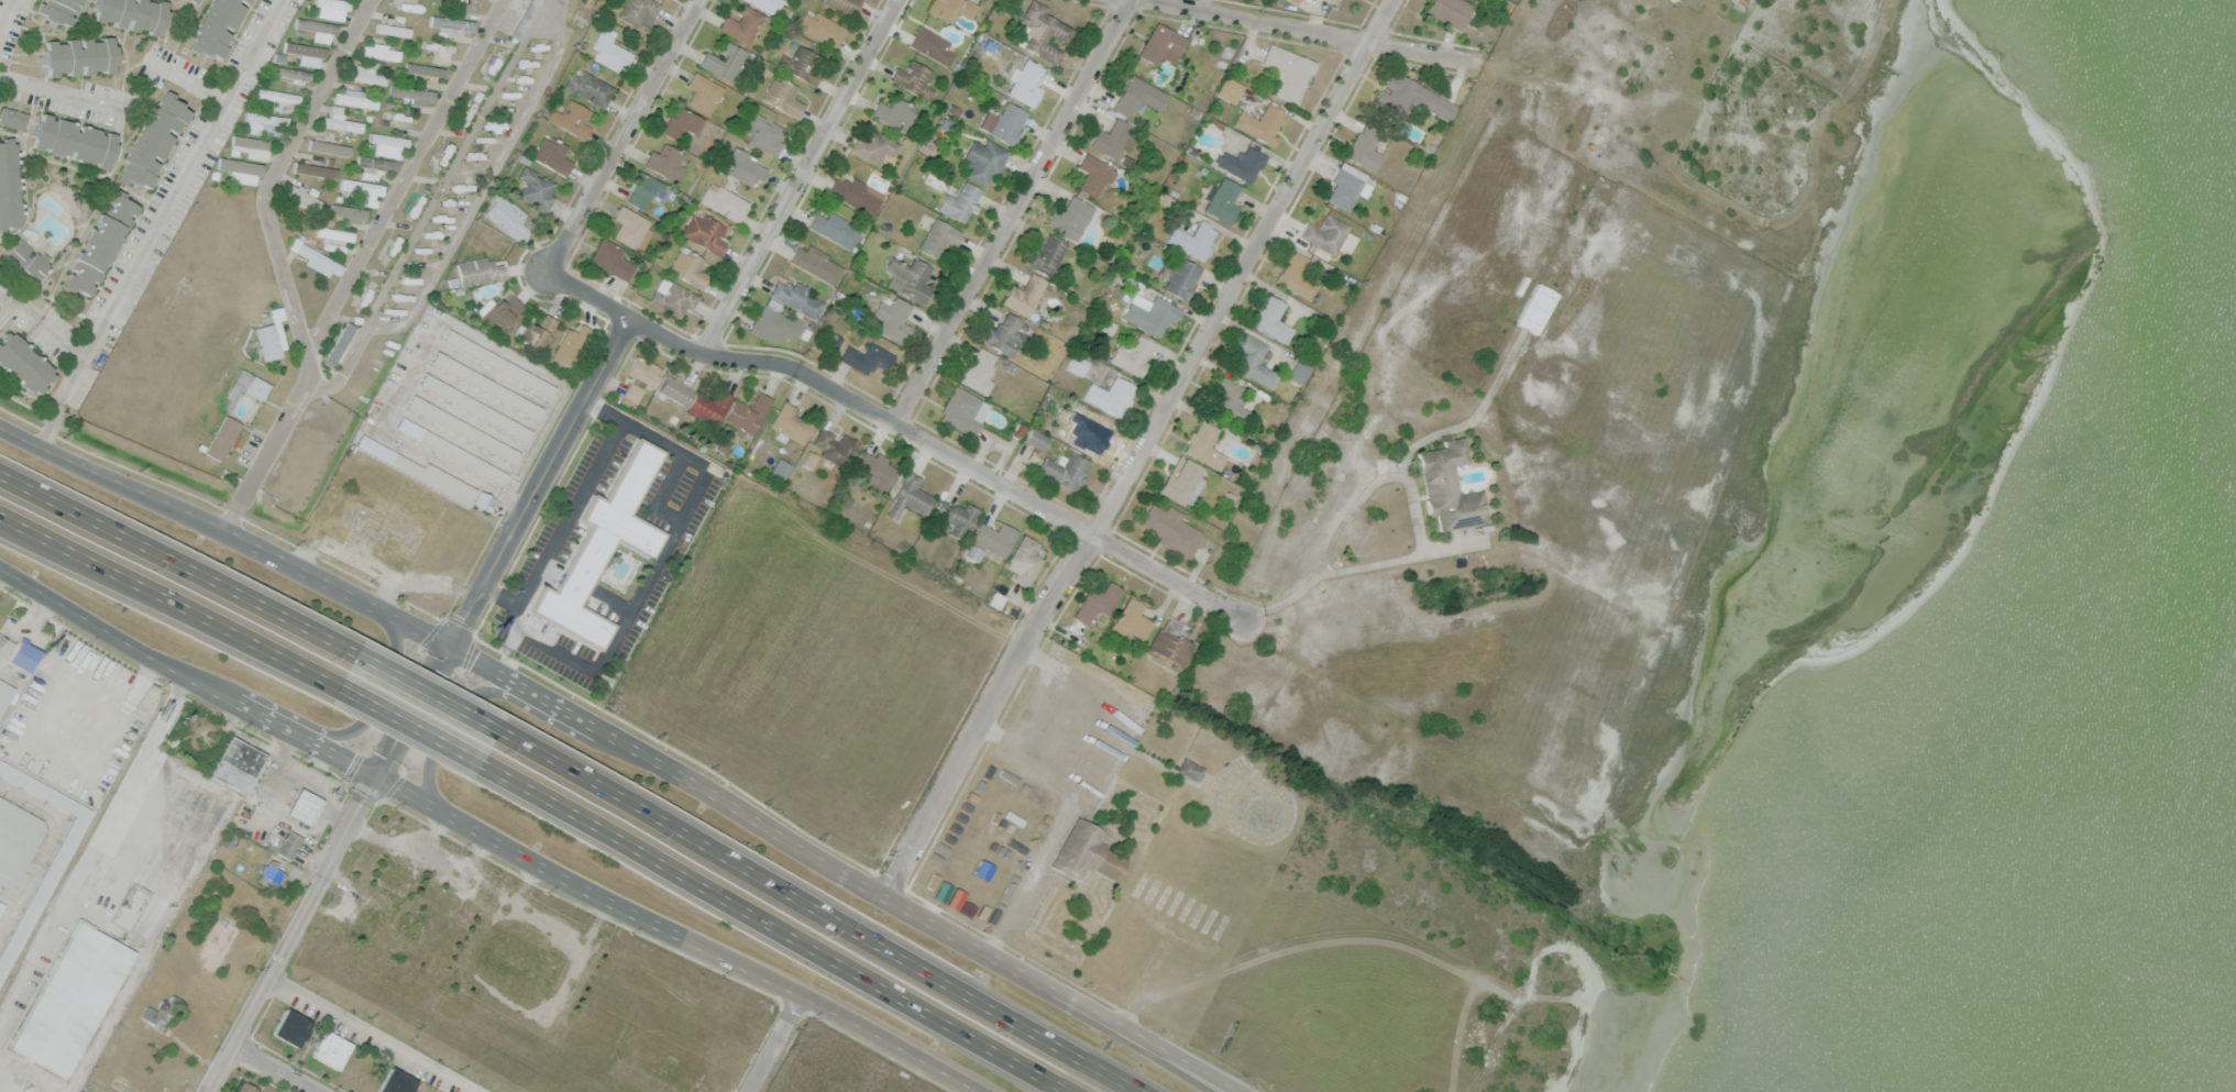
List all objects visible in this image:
building: (191, 1)
building: (1292, 1)
building: (1331, 1)
building: (333, 2)
building: (767, 4)
building: (845, 4)
building: (950, 9)
building: (57, 10)
building: (1449, 11)
road: (3, 12)
building: (638, 12)
building: (131, 13)
building: (525, 18)
building: (452, 23)
building: (741, 23)
building: (316, 25)
building: (216, 26)
building: (819, 27)
building: (393, 30)
road: (1319, 31)
building: (1040, 32)
building: (1160, 44)
building: (932, 45)
building: (305, 49)
building: (381, 51)
building: (442, 51)
building: (609, 53)
building: (78, 56)
building: (708, 58)
building: (800, 64)
building: (1287, 71)
building: (291, 73)
building: (368, 74)
building: (913, 78)
building: (1024, 82)
building: (588, 87)
building: (1229, 89)
building: (703, 91)
building: (1402, 92)
building: (412, 95)
building: (1136, 95)
building: (353, 96)
building: (781, 96)
building: (278, 98)
road: (129, 106)
building: (894, 113)
building: (12, 118)
building: (572, 119)
building: (1007, 122)
building: (1262, 122)
building: (262, 123)
building: (341, 123)
building: (680, 123)
road: (623, 133)
building: (764, 133)
building: (1113, 139)
building: (71, 140)
building: (153, 141)
building: (387, 145)
building: (874, 145)
building: (250, 146)
building: (330, 146)
building: (1364, 146)
building: (552, 154)
building: (982, 159)
building: (665, 162)
building: (1241, 163)
building: (373, 164)
building: (240, 165)
building: (745, 166)
building: (316, 168)
building: (1094, 174)
road: (405, 176)
road: (802, 177)
building: (1346, 185)
building: (9, 186)
building: (362, 186)
building: (537, 188)
building: (641, 188)
building: (856, 194)
building: (300, 197)
building: (1220, 200)
building: (724, 201)
building: (959, 202)
building: (348, 211)
road: (1013, 213)
building: (506, 217)
building: (1070, 217)
road: (161, 222)
building: (630, 228)
building: (835, 229)
building: (704, 232)
building: (1325, 232)
building: (334, 233)
building: (938, 236)
building: (1193, 239)
building: (99, 243)
building: (1046, 255)
building: (30, 258)
building: (317, 258)
building: (610, 258)
road: (280, 263)
building: (815, 263)
building: (687, 267)
building: (477, 271)
building: (1295, 275)
building: (1180, 277)
building: (907, 278)
building: (1024, 294)
building: (671, 297)
building: (796, 298)
road: (1, 299)
building: (1535, 308)
building: (500, 312)
building: (1150, 312)
building: (892, 318)
building: (1271, 319)
building: (773, 322)
road: (44, 323)
building: (1108, 326)
building: (533, 329)
building: (1004, 334)
building: (269, 341)
building: (830, 341)
building: (572, 343)
building: (339, 344)
building: (1132, 354)
building: (867, 357)
building: (1254, 360)
building: (23, 363)
building: (498, 364)
building: (1078, 364)
building: (979, 371)
building: (1298, 371)
building: (639, 380)
building: (247, 386)
building: (487, 386)
building: (674, 388)
building: (1111, 396)
building: (1231, 401)
building: (708, 407)
building: (476, 408)
building: (963, 410)
building: (747, 416)
building: (791, 423)
road: (895, 427)
building: (462, 429)
building: (1018, 431)
building: (222, 437)
building: (1037, 438)
building: (1203, 444)
building: (834, 446)
building: (451, 450)
road: (1142, 451)
building: (808, 460)
building: (779, 470)
building: (1065, 470)
building: (420, 471)
building: (874, 472)
road: (542, 481)
building: (1181, 481)
building: (1449, 486)
building: (908, 496)
building: (483, 500)
building: (956, 517)
building: (1170, 529)
road: (1423, 540)
building: (989, 541)
building: (602, 545)
building: (1025, 560)
road: (175, 563)
road: (168, 602)
building: (1098, 602)
road: (73, 609)
building: (1131, 620)
road: (25, 627)
building: (1168, 644)
building: (23, 655)
building: (4, 693)
road: (422, 694)
road: (466, 699)
road: (562, 708)
road: (262, 716)
road: (409, 725)
road: (359, 728)
building: (236, 764)
building: (1190, 769)
building: (302, 807)
gas station: (304, 807)
road: (451, 817)
building: (15, 840)
road: (46, 845)
building: (289, 845)
building: (1084, 852)
road: (330, 869)
building: (271, 873)
building: (44, 884)
building: (1, 904)
road: (823, 907)
road: (660, 927)
road: (772, 927)
building: (71, 1000)
building: (162, 1014)
building: (291, 1027)
road: (372, 1035)
road: (773, 1044)
road: (894, 1044)
building: (330, 1049)
road: (1158, 1056)
road: (1177, 1056)
park: (840, 1066)
road: (275, 1069)
building: (396, 1081)
building: (245, 1088)

